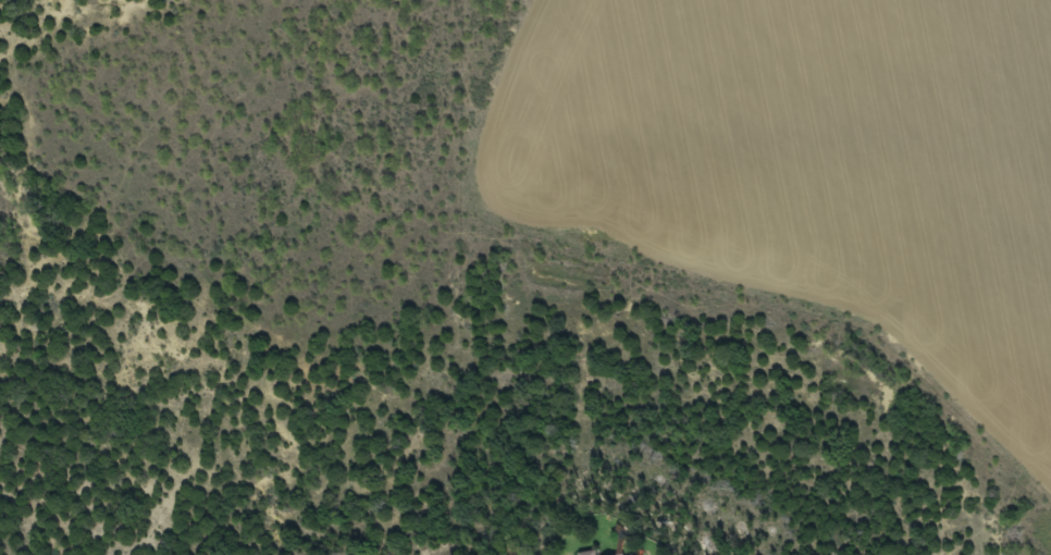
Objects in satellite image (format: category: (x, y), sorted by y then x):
building: (588, 553)
building: (613, 554)

